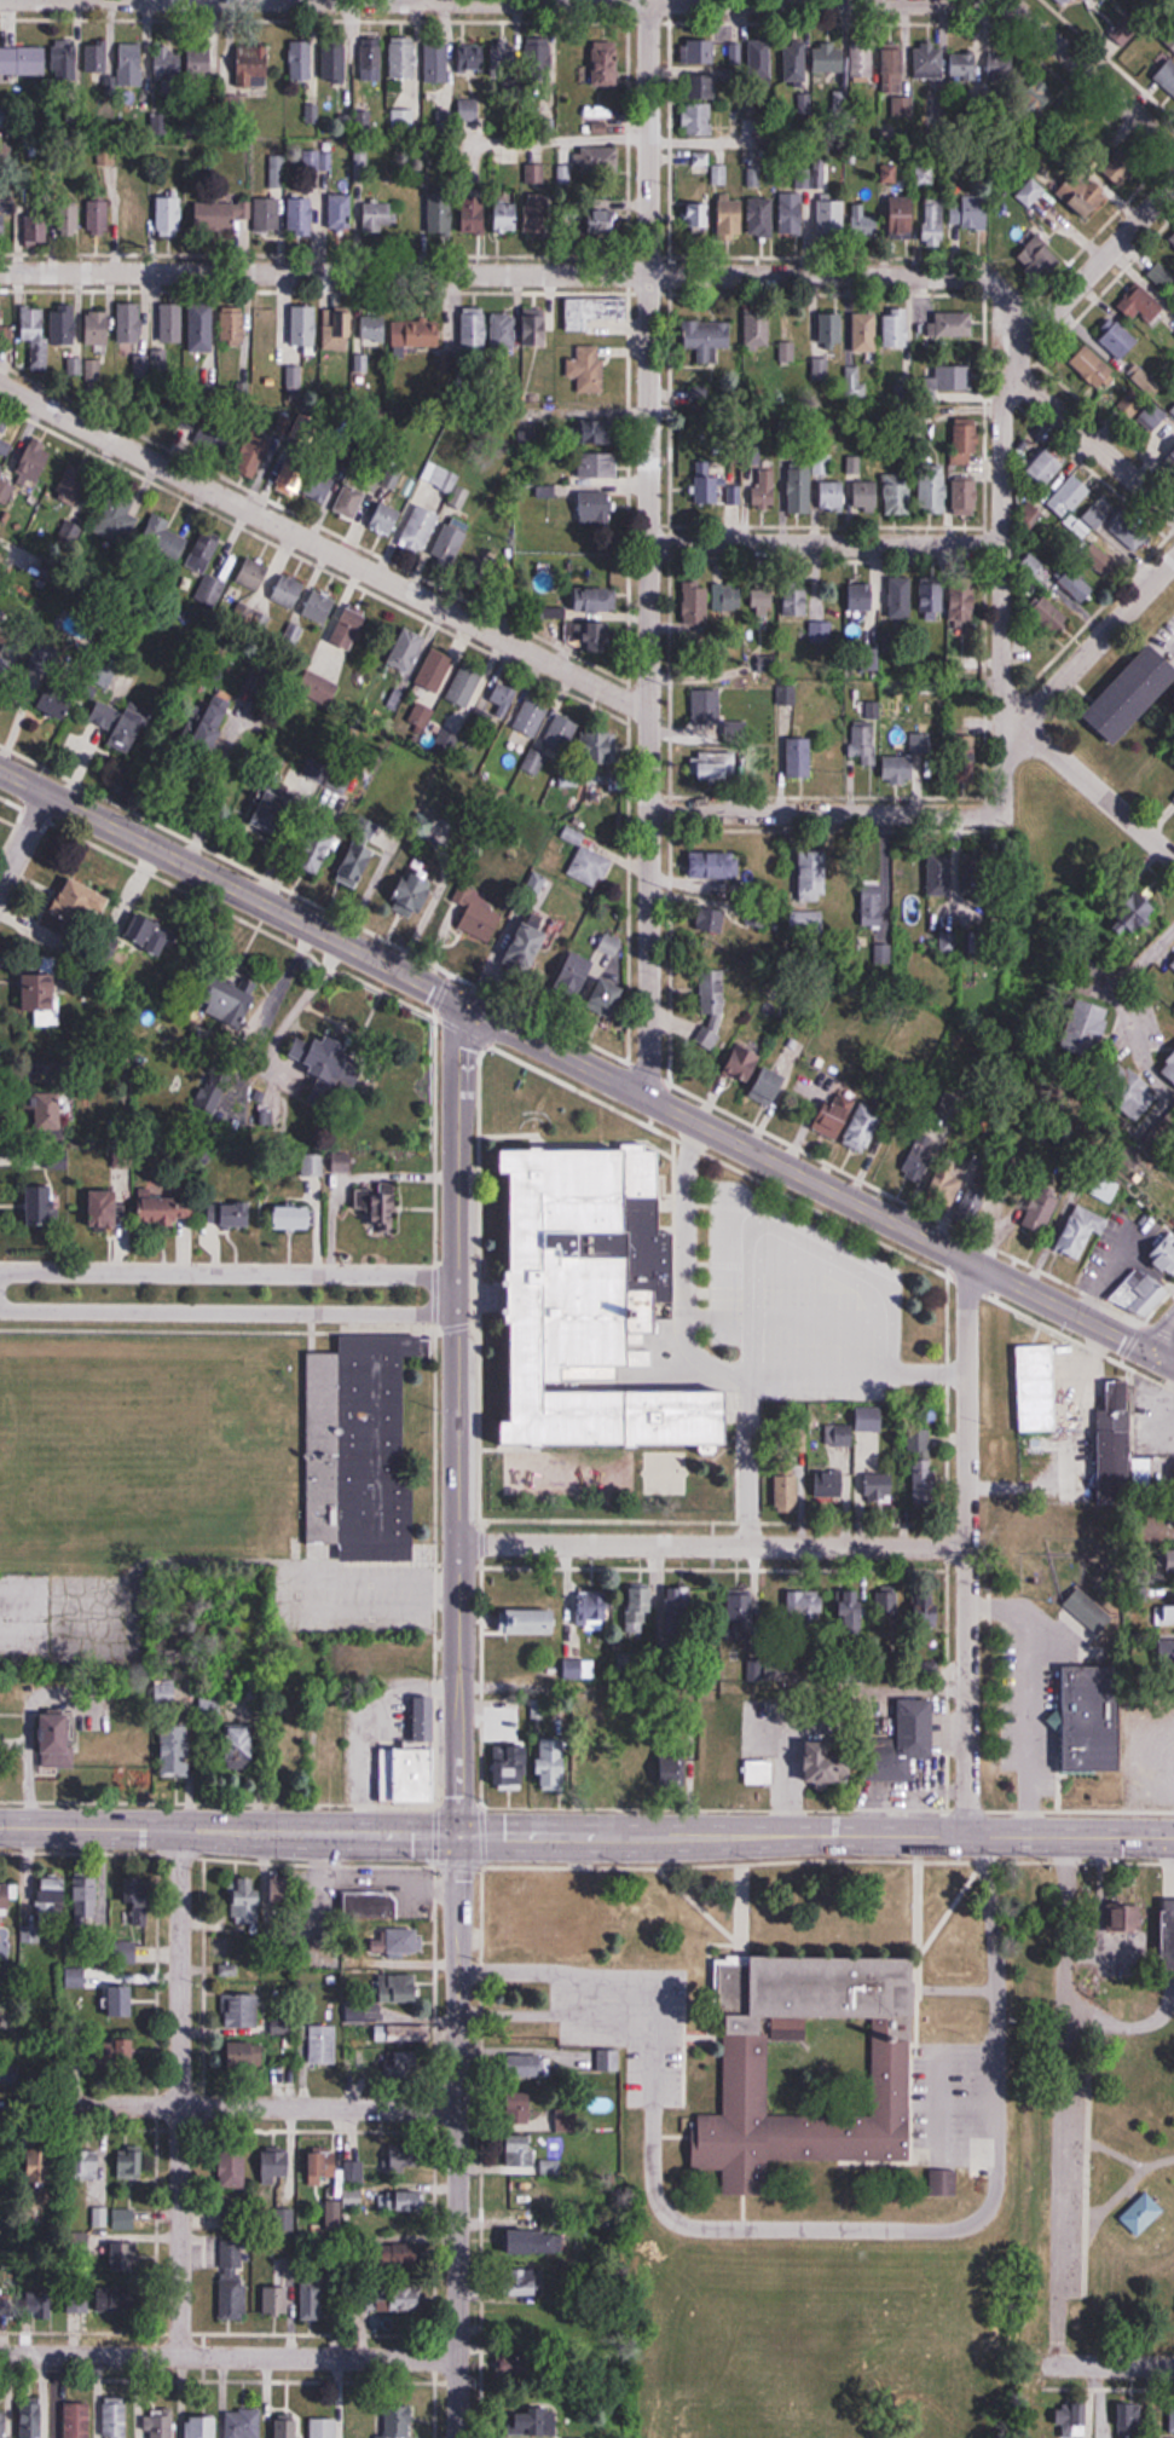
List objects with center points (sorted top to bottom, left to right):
road: (763, 1)
building: (1070, 1)
building: (1173, 41)
building: (702, 52)
building: (539, 57)
building: (98, 58)
building: (403, 58)
building: (472, 58)
building: (371, 59)
building: (503, 59)
building: (829, 59)
building: (23, 60)
building: (301, 60)
building: (335, 60)
building: (761, 60)
building: (794, 62)
building: (862, 62)
building: (929, 62)
building: (65, 63)
building: (201, 63)
building: (167, 64)
building: (436, 64)
building: (606, 64)
building: (968, 64)
building: (131, 65)
building: (253, 67)
building: (893, 69)
road: (1091, 74)
building: (705, 86)
building: (600, 112)
building: (474, 114)
building: (2, 117)
building: (698, 119)
building: (403, 121)
building: (602, 127)
building: (597, 160)
building: (360, 164)
building: (278, 172)
building: (718, 174)
building: (923, 174)
building: (1030, 192)
building: (1082, 195)
building: (340, 212)
building: (539, 212)
building: (971, 212)
building: (267, 214)
building: (440, 214)
building: (797, 214)
building: (168, 215)
building: (474, 215)
building: (700, 215)
building: (731, 215)
building: (98, 216)
building: (135, 216)
building: (301, 216)
building: (380, 216)
building: (508, 216)
building: (762, 216)
building: (902, 216)
building: (220, 218)
building: (70, 219)
building: (832, 219)
building: (866, 220)
building: (933, 221)
building: (2, 223)
building: (601, 223)
building: (37, 225)
building: (1172, 239)
building: (1040, 259)
road: (542, 271)
building: (1162, 278)
building: (1141, 305)
building: (594, 311)
building: (0, 312)
building: (131, 323)
building: (172, 324)
building: (232, 324)
building: (953, 325)
building: (267, 327)
building: (305, 327)
building: (534, 327)
building: (758, 327)
building: (64, 328)
building: (98, 328)
building: (202, 328)
building: (374, 328)
building: (474, 329)
building: (831, 329)
building: (896, 329)
building: (503, 330)
building: (336, 331)
building: (416, 333)
building: (864, 333)
building: (35, 335)
building: (706, 339)
building: (1118, 340)
building: (786, 351)
building: (1094, 368)
building: (820, 369)
building: (93, 370)
building: (588, 370)
building: (947, 379)
building: (855, 382)
road: (1004, 422)
building: (2, 426)
road: (1089, 437)
building: (965, 443)
building: (1173, 455)
building: (36, 461)
building: (596, 467)
building: (1046, 468)
building: (308, 480)
building: (5, 489)
building: (799, 489)
building: (74, 490)
building: (709, 490)
building: (764, 490)
building: (933, 491)
building: (898, 495)
building: (832, 496)
building: (866, 497)
building: (966, 497)
building: (1069, 497)
building: (349, 503)
building: (595, 509)
building: (1031, 515)
building: (117, 518)
building: (384, 521)
building: (1116, 525)
building: (163, 539)
road: (826, 543)
building: (450, 544)
road: (648, 548)
road: (323, 549)
building: (203, 553)
building: (1099, 561)
building: (253, 576)
building: (1076, 587)
building: (210, 591)
building: (288, 593)
building: (861, 597)
building: (728, 599)
building: (901, 599)
building: (932, 600)
building: (595, 601)
building: (796, 601)
building: (762, 605)
building: (964, 605)
building: (695, 606)
building: (319, 607)
building: (249, 617)
building: (1051, 617)
building: (351, 628)
building: (820, 634)
building: (603, 637)
road: (1098, 641)
building: (406, 651)
building: (7, 664)
building: (434, 671)
building: (464, 686)
building: (318, 689)
building: (1132, 695)
building: (54, 698)
building: (503, 700)
building: (706, 707)
building: (531, 718)
road: (1001, 723)
building: (118, 726)
building: (561, 735)
building: (600, 750)
building: (799, 758)
building: (328, 770)
building: (900, 770)
building: (717, 772)
road: (1098, 791)
building: (1173, 799)
road: (871, 813)
road: (23, 839)
building: (318, 853)
building: (712, 865)
building: (358, 866)
building: (590, 866)
building: (812, 874)
building: (944, 876)
road: (231, 888)
building: (416, 892)
building: (82, 901)
building: (871, 903)
building: (481, 912)
building: (1134, 915)
building: (711, 920)
building: (148, 932)
building: (612, 946)
building: (528, 947)
building: (1173, 960)
road: (1150, 964)
building: (579, 975)
building: (45, 992)
building: (227, 999)
building: (608, 1000)
building: (713, 1010)
building: (1087, 1029)
building: (325, 1065)
building: (744, 1065)
building: (1169, 1070)
building: (41, 1074)
building: (773, 1086)
building: (213, 1087)
building: (1133, 1096)
building: (47, 1114)
building: (851, 1127)
road: (459, 1160)
building: (342, 1163)
building: (308, 1165)
building: (918, 1166)
road: (805, 1177)
building: (947, 1189)
building: (1108, 1191)
building: (42, 1203)
building: (975, 1204)
building: (106, 1208)
building: (376, 1209)
building: (1041, 1213)
building: (243, 1214)
building: (295, 1217)
building: (1081, 1232)
building: (1163, 1256)
road: (229, 1272)
building: (1140, 1292)
building: (596, 1306)
road: (229, 1312)
road: (1159, 1338)
road: (1159, 1362)
road: (457, 1428)
building: (1116, 1442)
building: (360, 1448)
building: (923, 1467)
building: (829, 1484)
building: (786, 1486)
building: (874, 1487)
road: (712, 1543)
road: (966, 1548)
building: (1170, 1560)
building: (597, 1607)
building: (810, 1607)
building: (927, 1607)
building: (638, 1608)
building: (851, 1612)
building: (678, 1613)
building: (887, 1613)
building: (1169, 1614)
building: (531, 1620)
building: (1166, 1652)
building: (400, 1660)
building: (929, 1670)
road: (458, 1688)
building: (1105, 1724)
building: (56, 1739)
building: (904, 1741)
building: (241, 1744)
building: (175, 1749)
building: (418, 1756)
building: (554, 1762)
building: (828, 1763)
building: (673, 1766)
building: (510, 1767)
building: (761, 1770)
road: (586, 1836)
building: (53, 1888)
building: (282, 1890)
building: (7, 1896)
building: (87, 1897)
building: (138, 1897)
building: (248, 1900)
building: (371, 1906)
building: (1120, 1912)
building: (551, 1930)
building: (1168, 1934)
building: (404, 1940)
building: (126, 1951)
building: (398, 1987)
building: (123, 1999)
road: (551, 2007)
building: (243, 2010)
building: (355, 2012)
road: (1170, 2014)
road: (1143, 2026)
building: (282, 2027)
building: (394, 2033)
building: (322, 2044)
building: (105, 2053)
building: (245, 2053)
building: (606, 2059)
building: (811, 2064)
road: (180, 2092)
road: (1060, 2101)
building: (521, 2104)
road: (243, 2105)
road: (458, 2136)
park: (1101, 2138)
building: (521, 2150)
building: (405, 2155)
road: (1116, 2155)
building: (129, 2163)
building: (41, 2165)
building: (86, 2165)
building: (322, 2165)
building: (274, 2166)
building: (550, 2167)
building: (232, 2168)
building: (943, 2183)
building: (353, 2184)
road: (1127, 2186)
building: (530, 2197)
building: (401, 2202)
building: (1141, 2214)
building: (100, 2218)
building: (123, 2219)
road: (800, 2223)
building: (536, 2242)
building: (401, 2255)
building: (123, 2258)
building: (232, 2282)
building: (524, 2282)
building: (339, 2290)
building: (276, 2299)
building: (393, 2299)
building: (312, 2300)
building: (40, 2305)
building: (77, 2310)
road: (229, 2356)
road: (1088, 2364)
building: (116, 2419)
building: (1129, 2419)
building: (31, 2420)
building: (70, 2420)
building: (395, 2420)
building: (536, 2420)
building: (1170, 2420)
building: (160, 2422)
building: (243, 2423)
building: (2, 2425)
building: (201, 2427)
building: (288, 2427)
building: (325, 2427)

